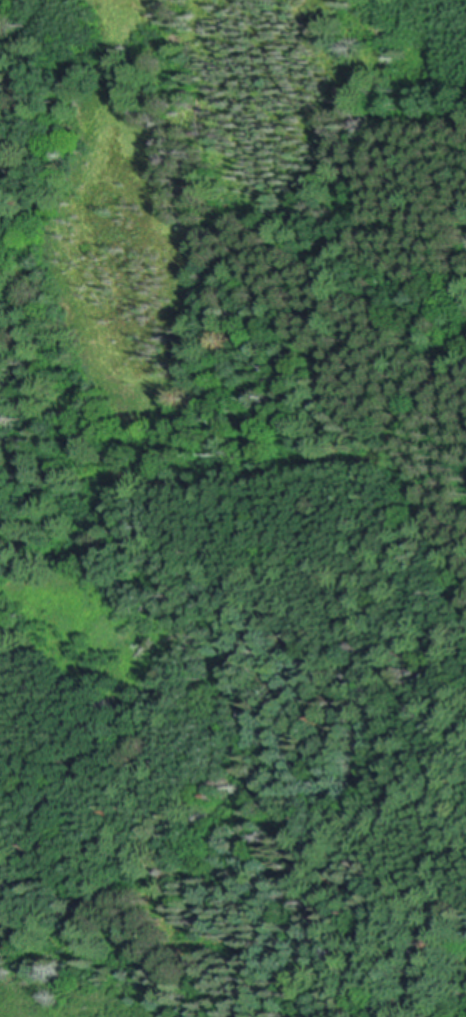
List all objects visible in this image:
road: (413, 424)
road: (182, 488)
road: (424, 562)

